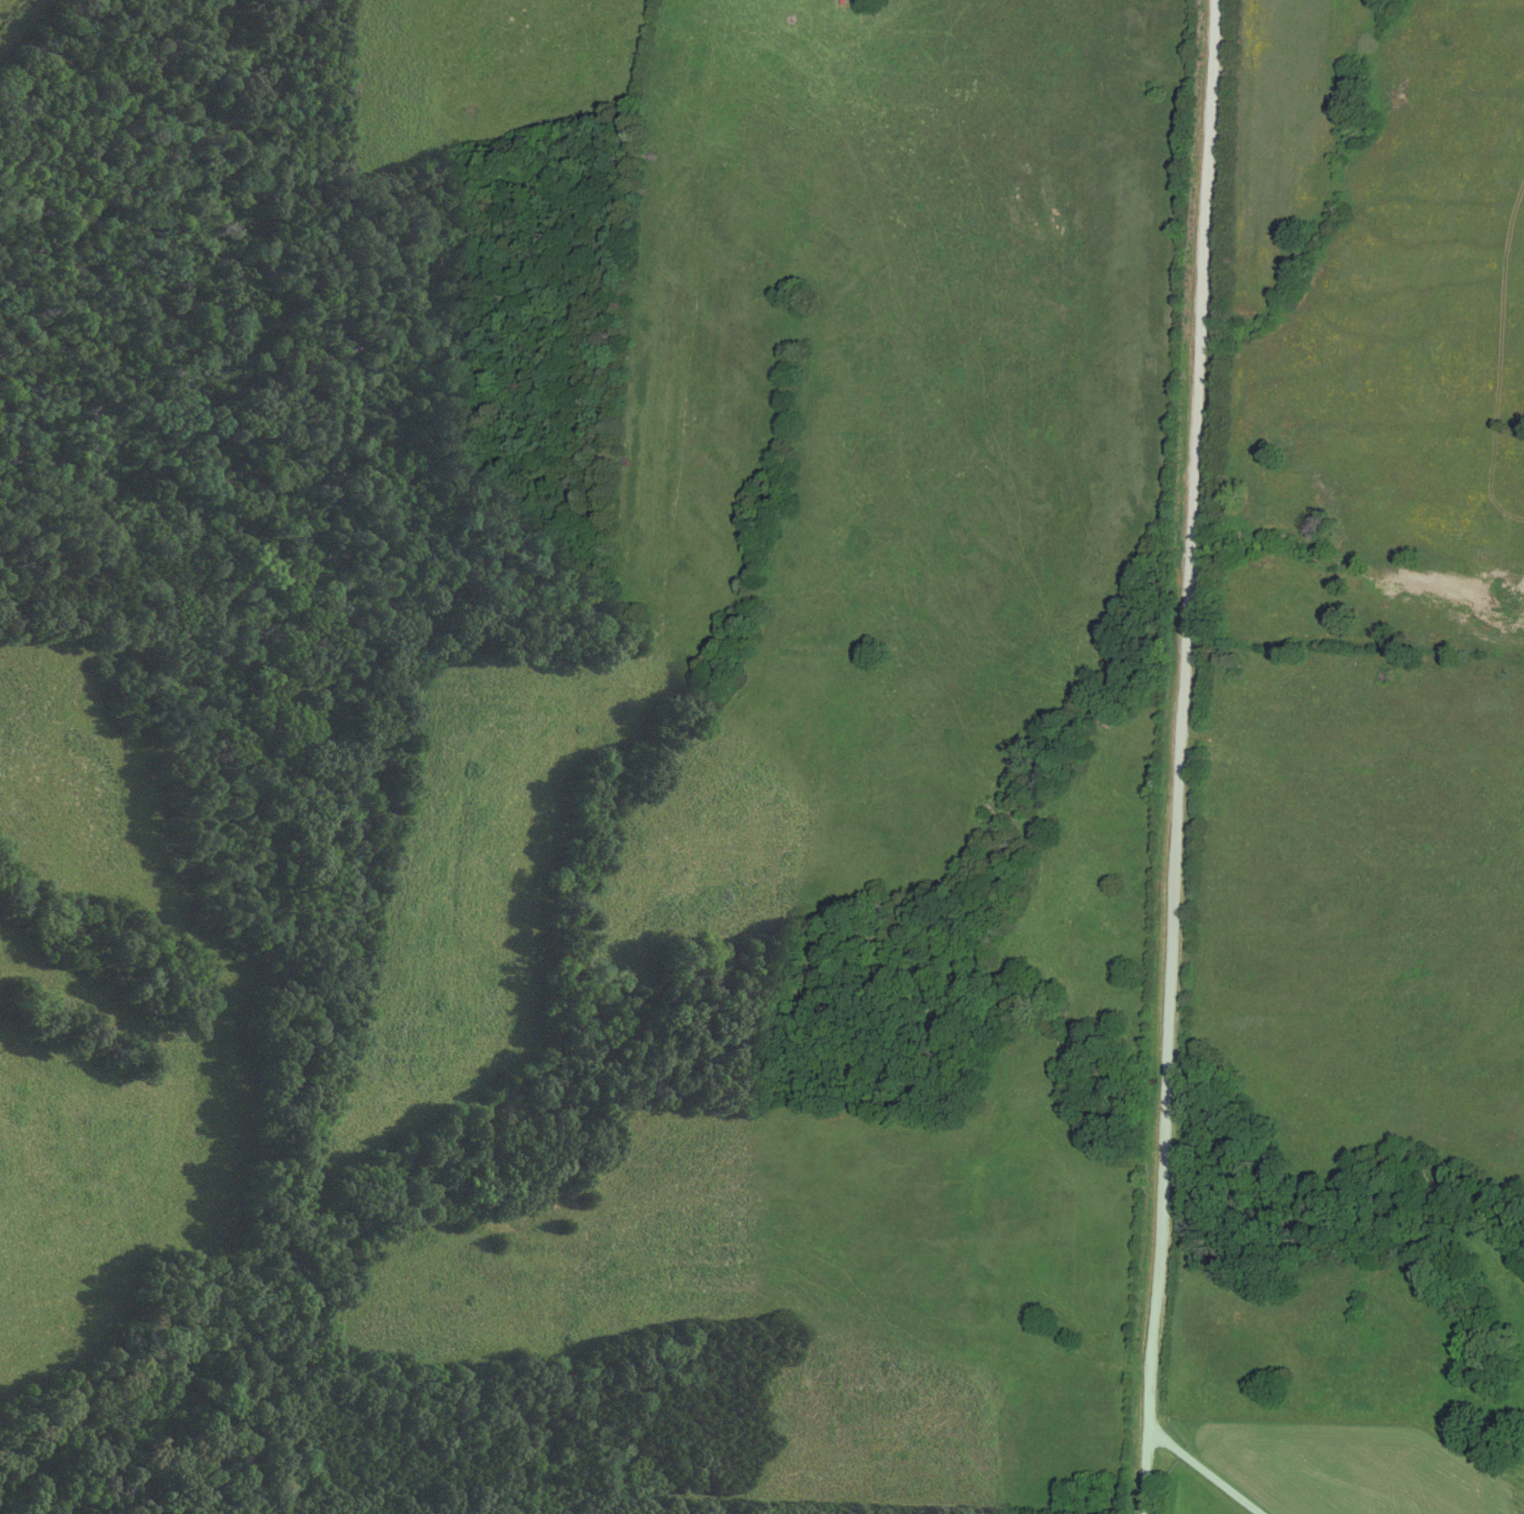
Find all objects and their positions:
road: (1184, 757)
road: (1206, 1474)

